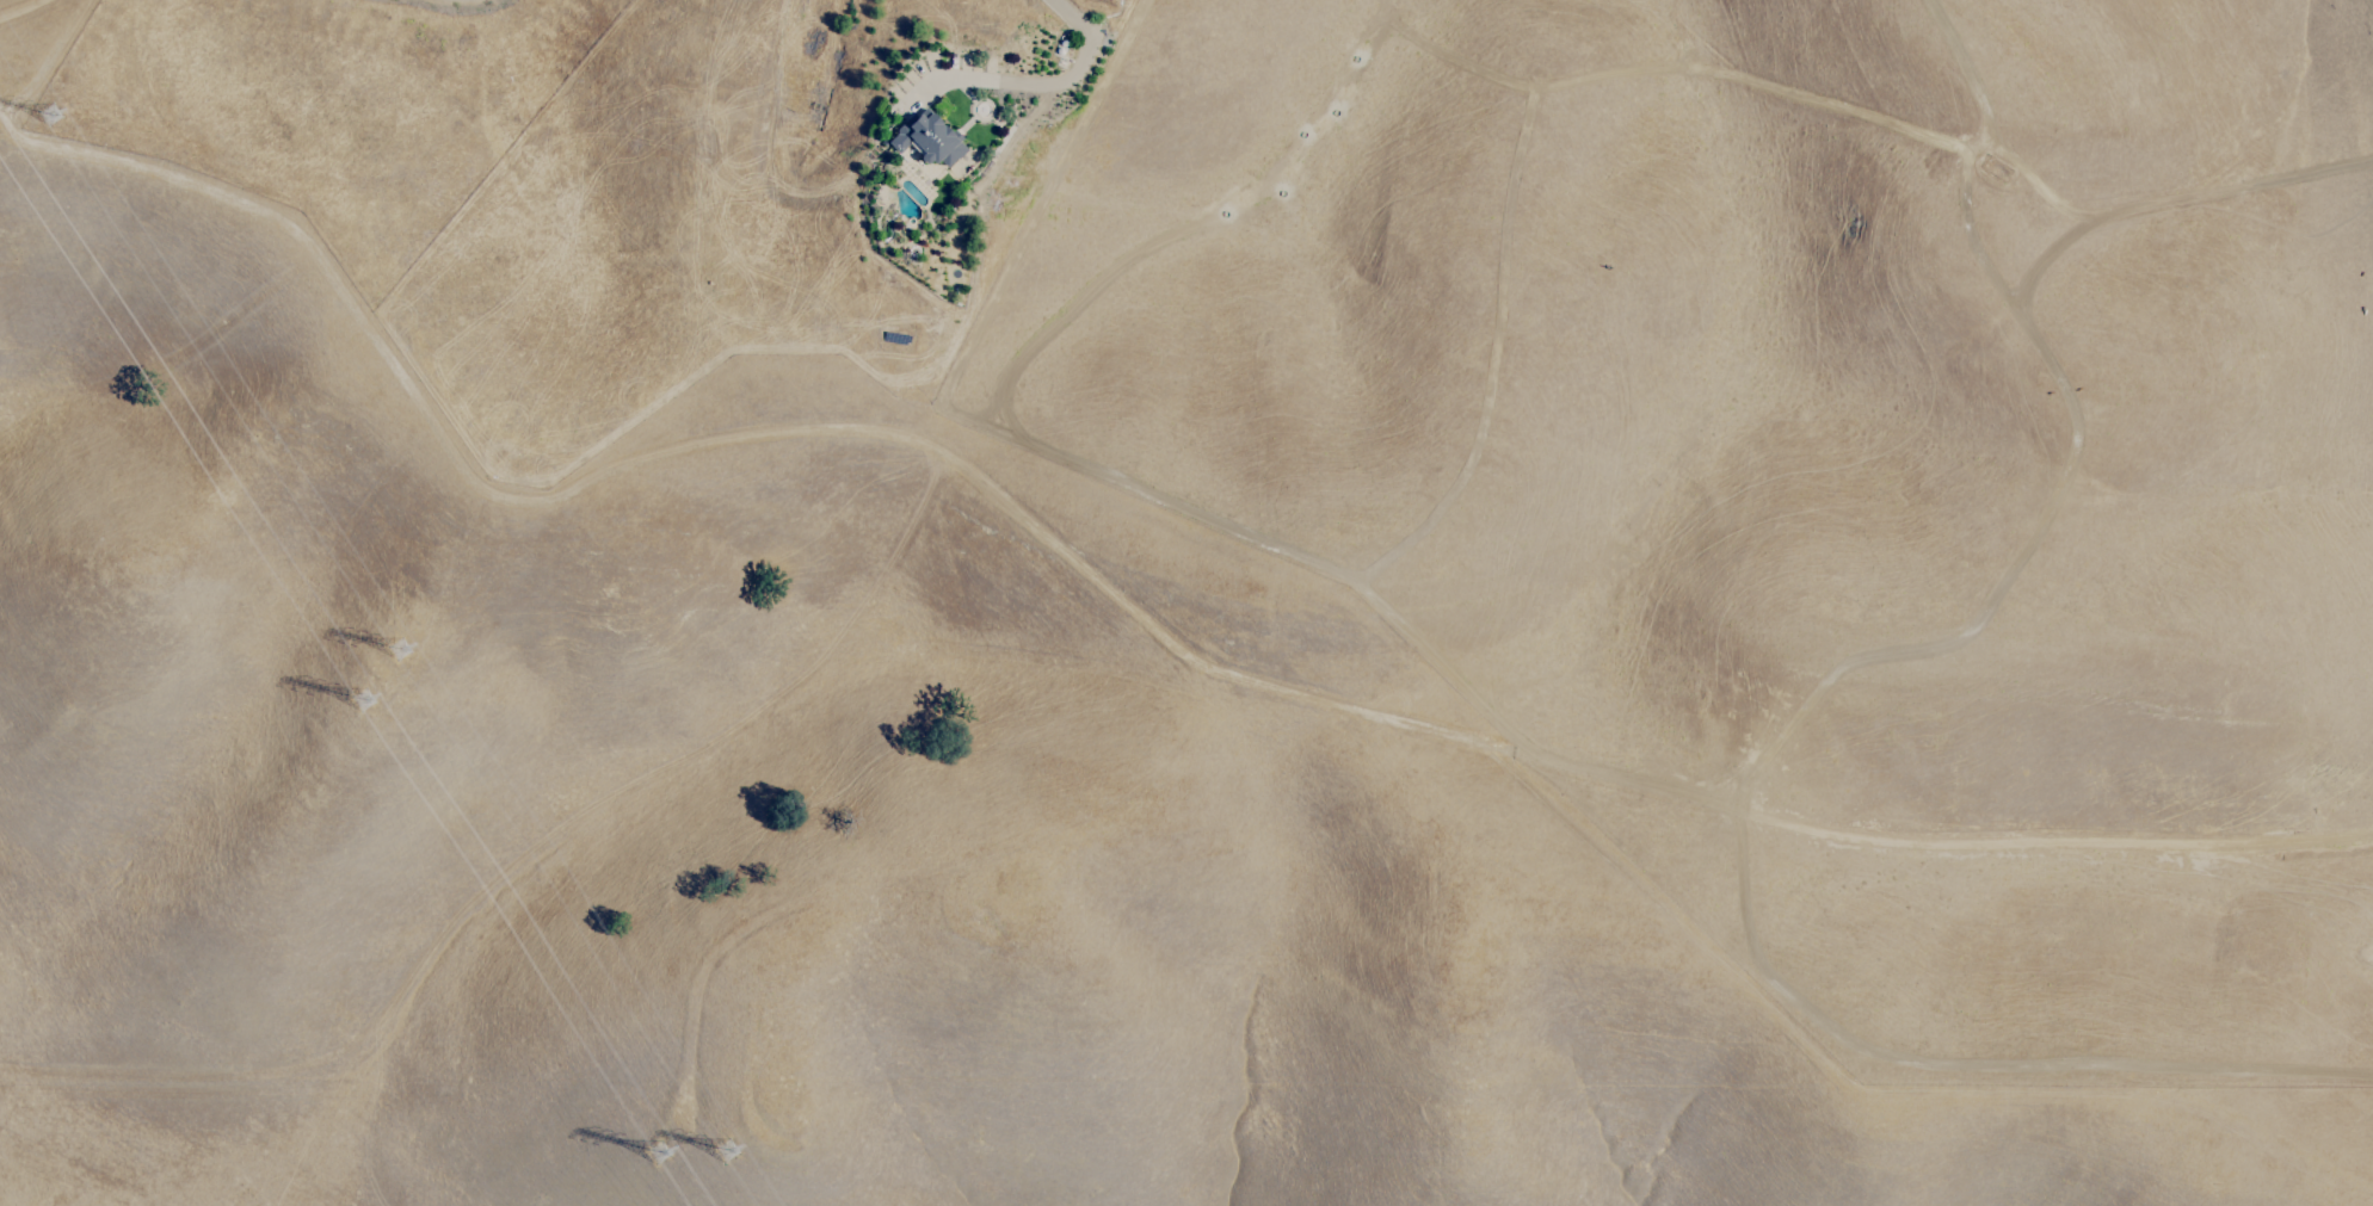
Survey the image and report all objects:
road: (1060, 84)
power tower: (51, 122)
building: (927, 140)
power tower: (395, 660)
power tower: (369, 707)
power tower: (722, 1152)
power tower: (662, 1157)

